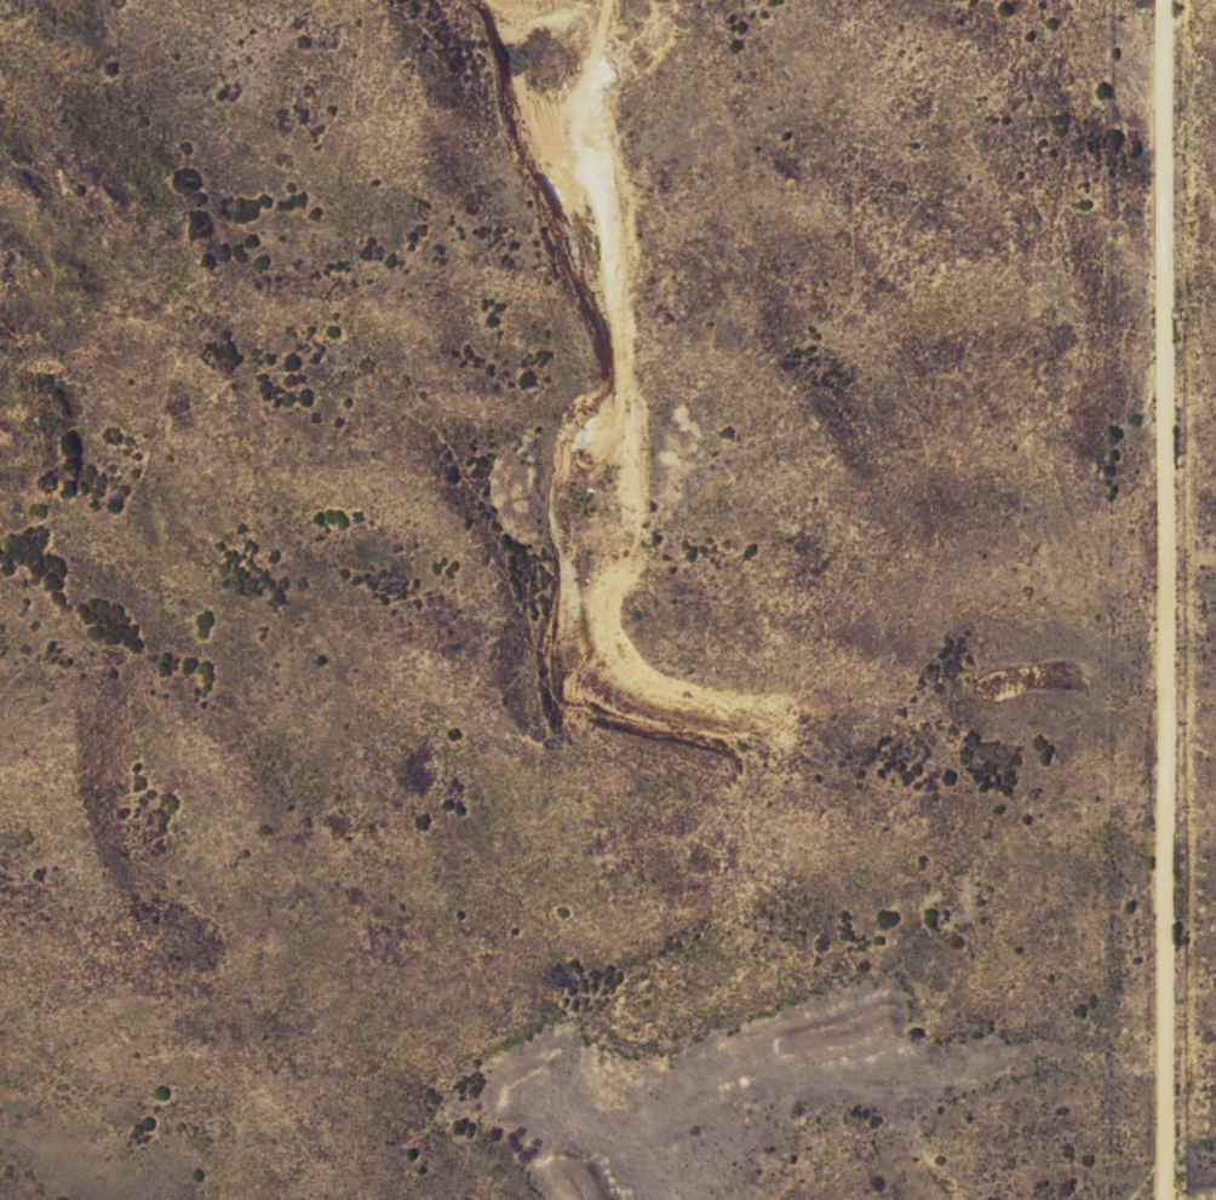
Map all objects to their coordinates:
road: (1166, 599)

